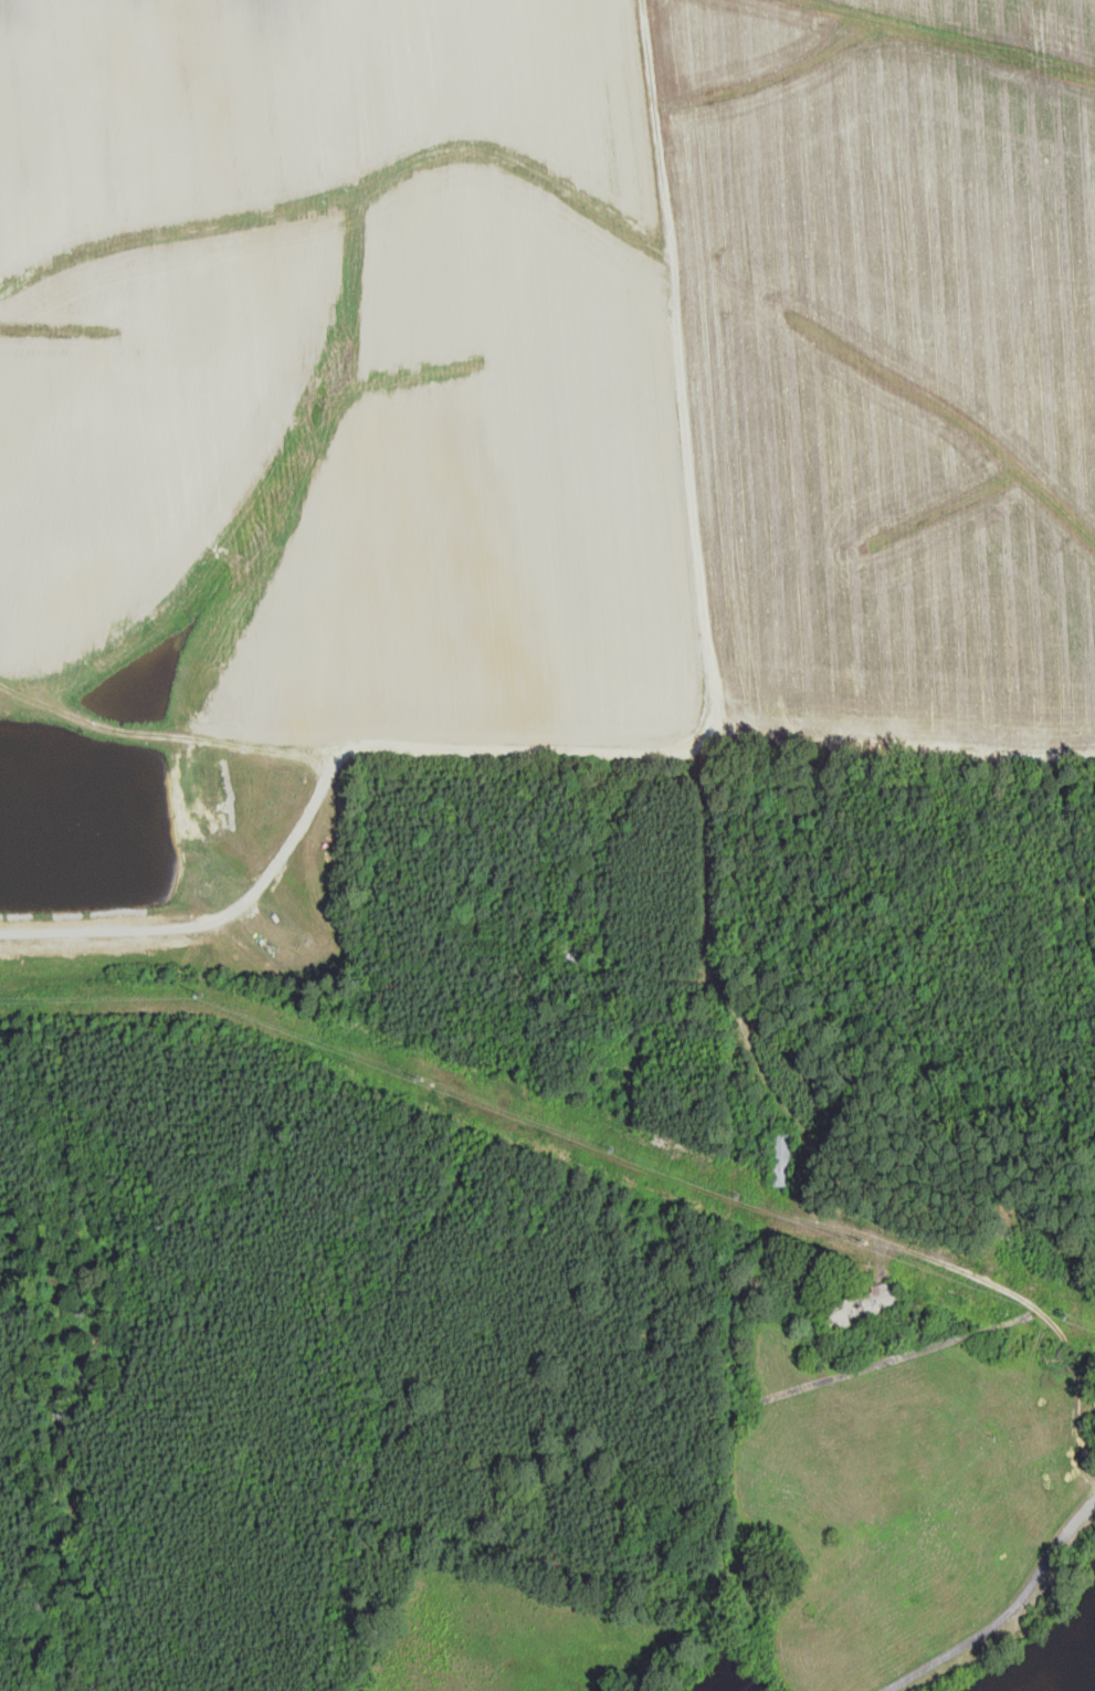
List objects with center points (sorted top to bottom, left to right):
road: (744, 864)
building: (571, 948)
building: (783, 1157)
road: (967, 1283)
building: (860, 1306)
road: (1009, 1614)

